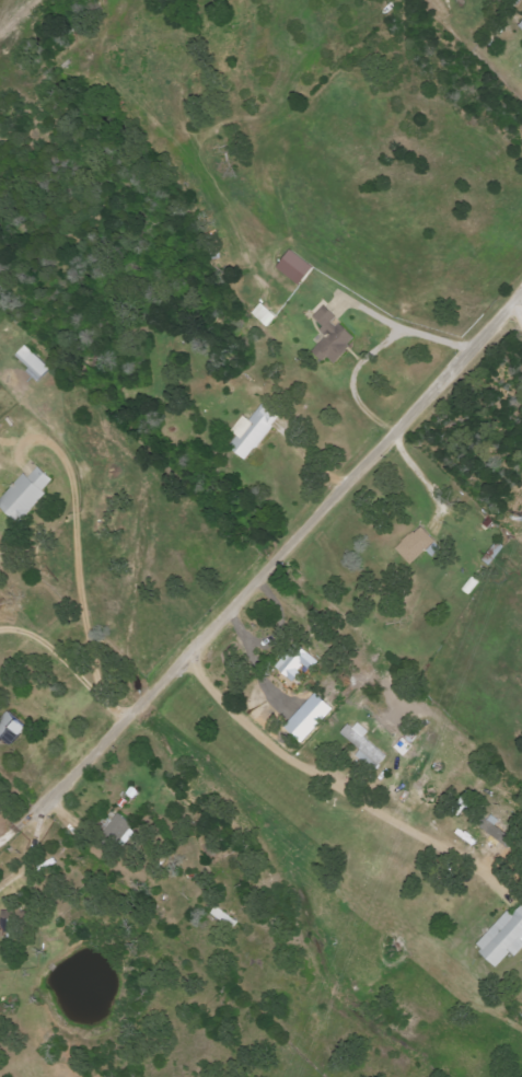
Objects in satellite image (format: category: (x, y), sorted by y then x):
building: (299, 268)
building: (334, 337)
building: (35, 364)
building: (256, 431)
building: (28, 494)
road: (78, 544)
building: (417, 545)
road: (260, 570)
building: (297, 662)
road: (67, 664)
building: (13, 728)
building: (367, 746)
road: (341, 789)
building: (124, 824)
building: (503, 939)

